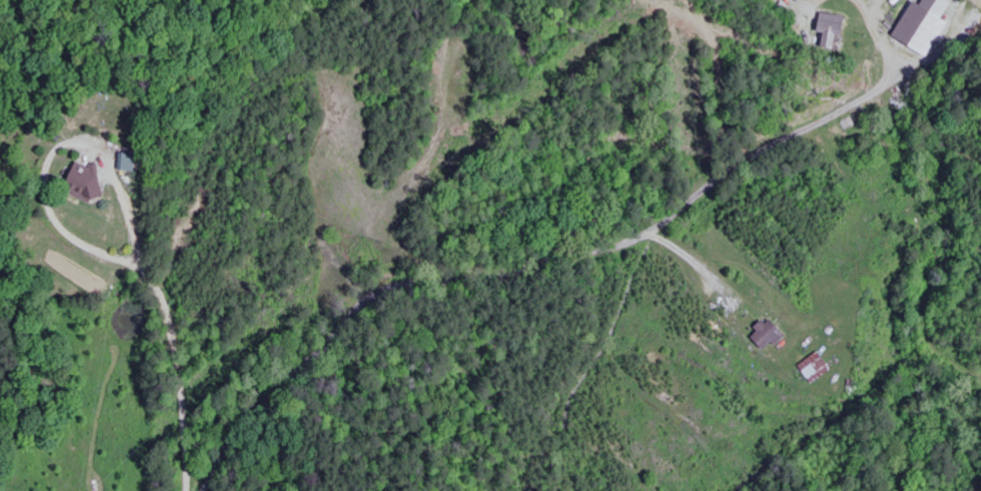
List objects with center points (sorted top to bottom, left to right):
building: (920, 24)
building: (828, 27)
building: (123, 159)
building: (80, 181)
road: (524, 268)
building: (764, 333)
building: (813, 366)

